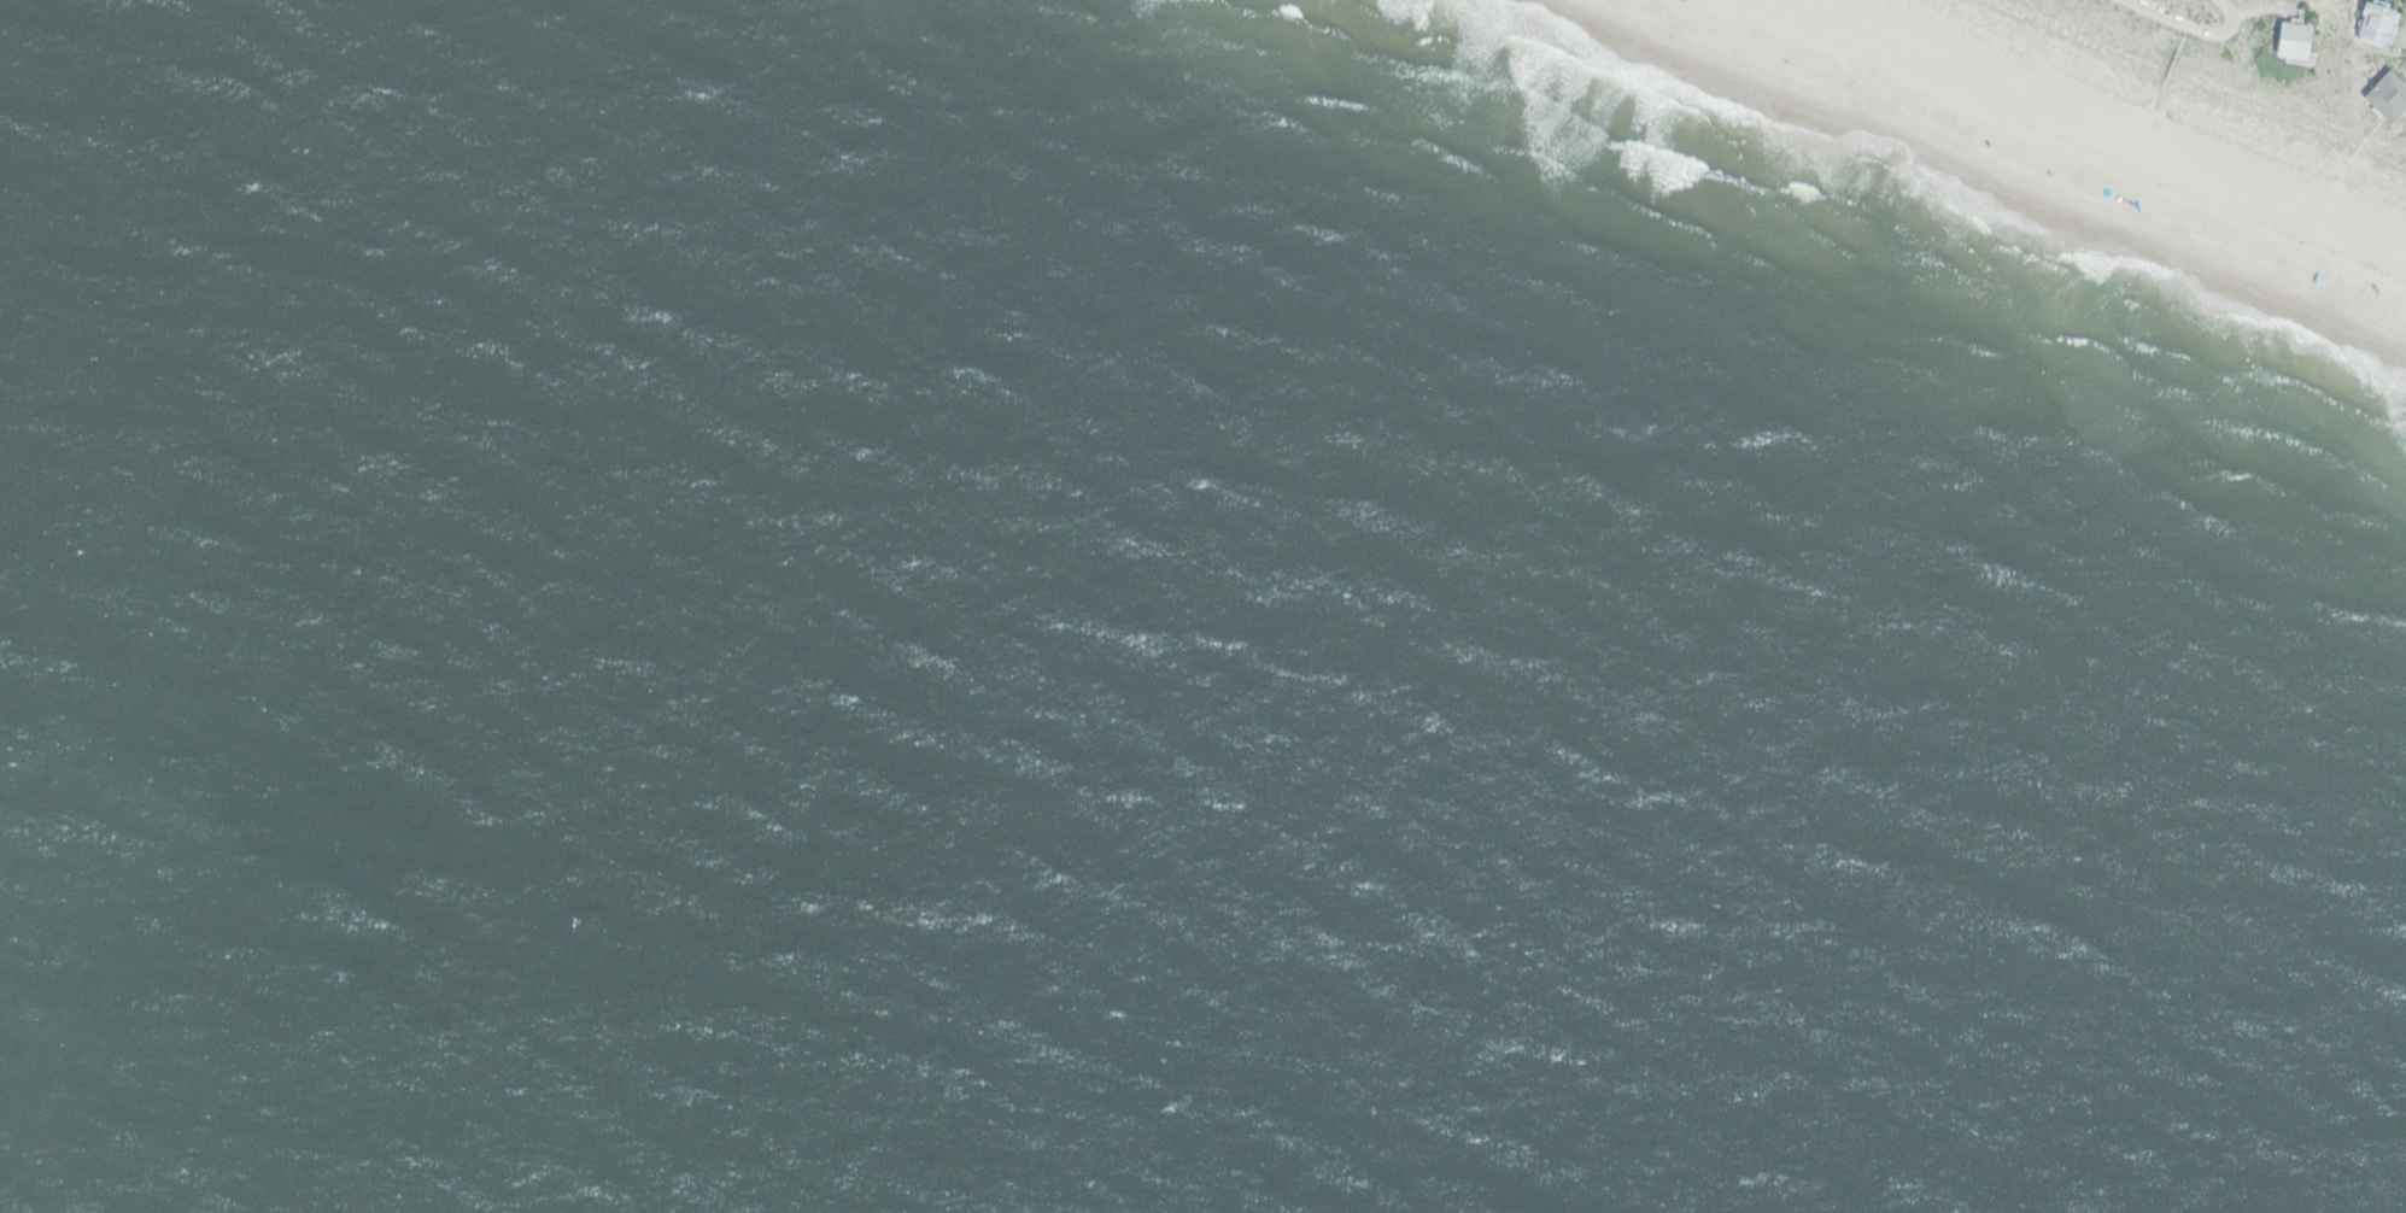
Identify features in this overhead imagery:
building: (2378, 23)
road: (2194, 31)
building: (2295, 39)
building: (2389, 93)

